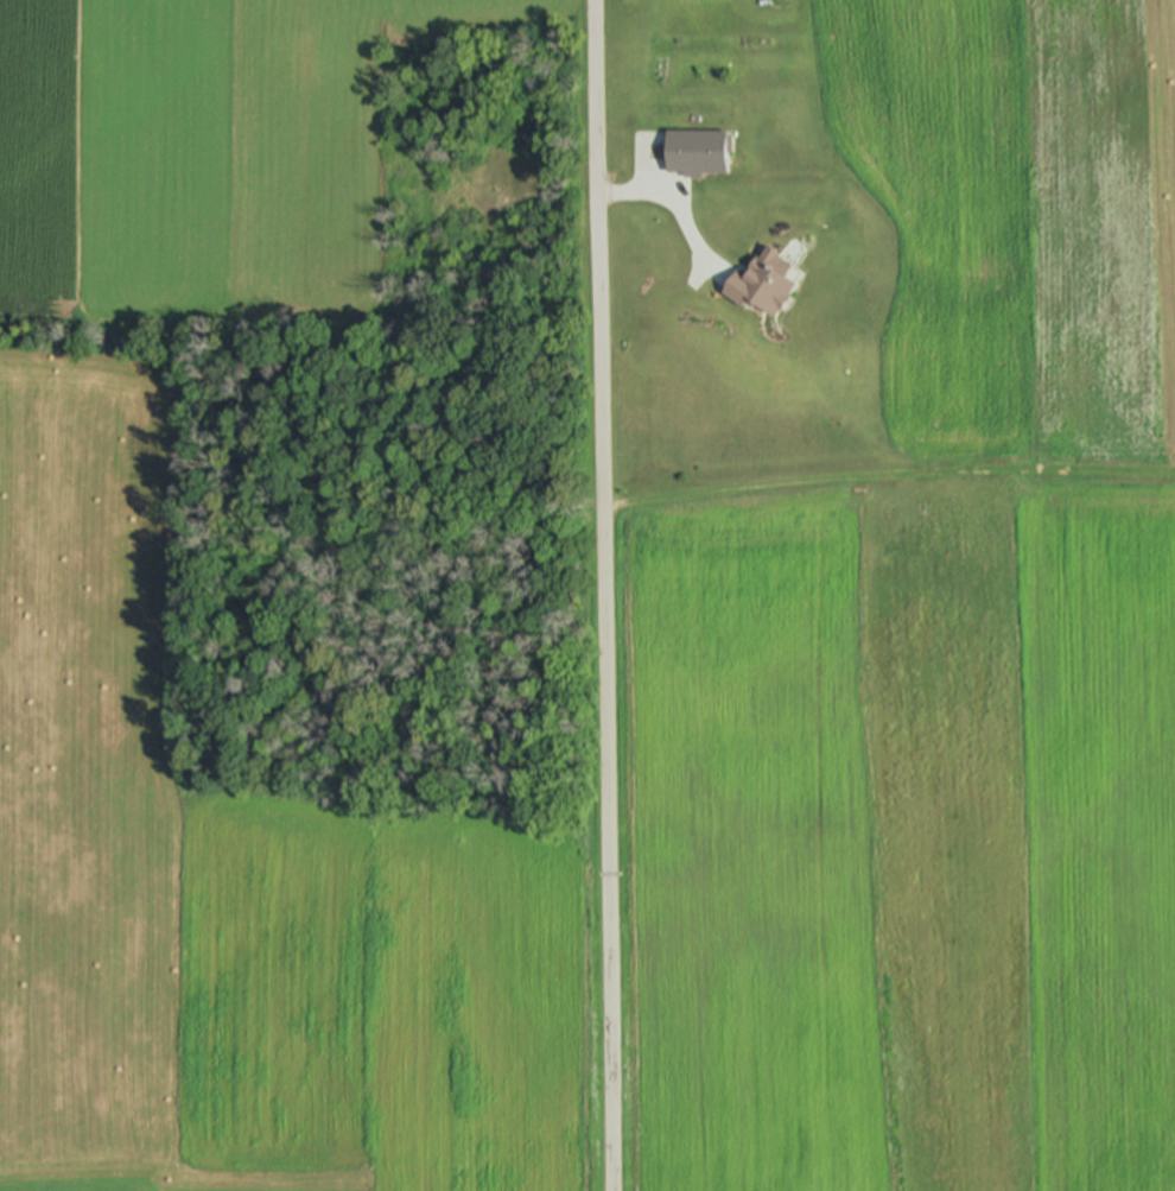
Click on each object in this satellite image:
building: (698, 153)
road: (671, 203)
building: (764, 284)
road: (604, 595)

